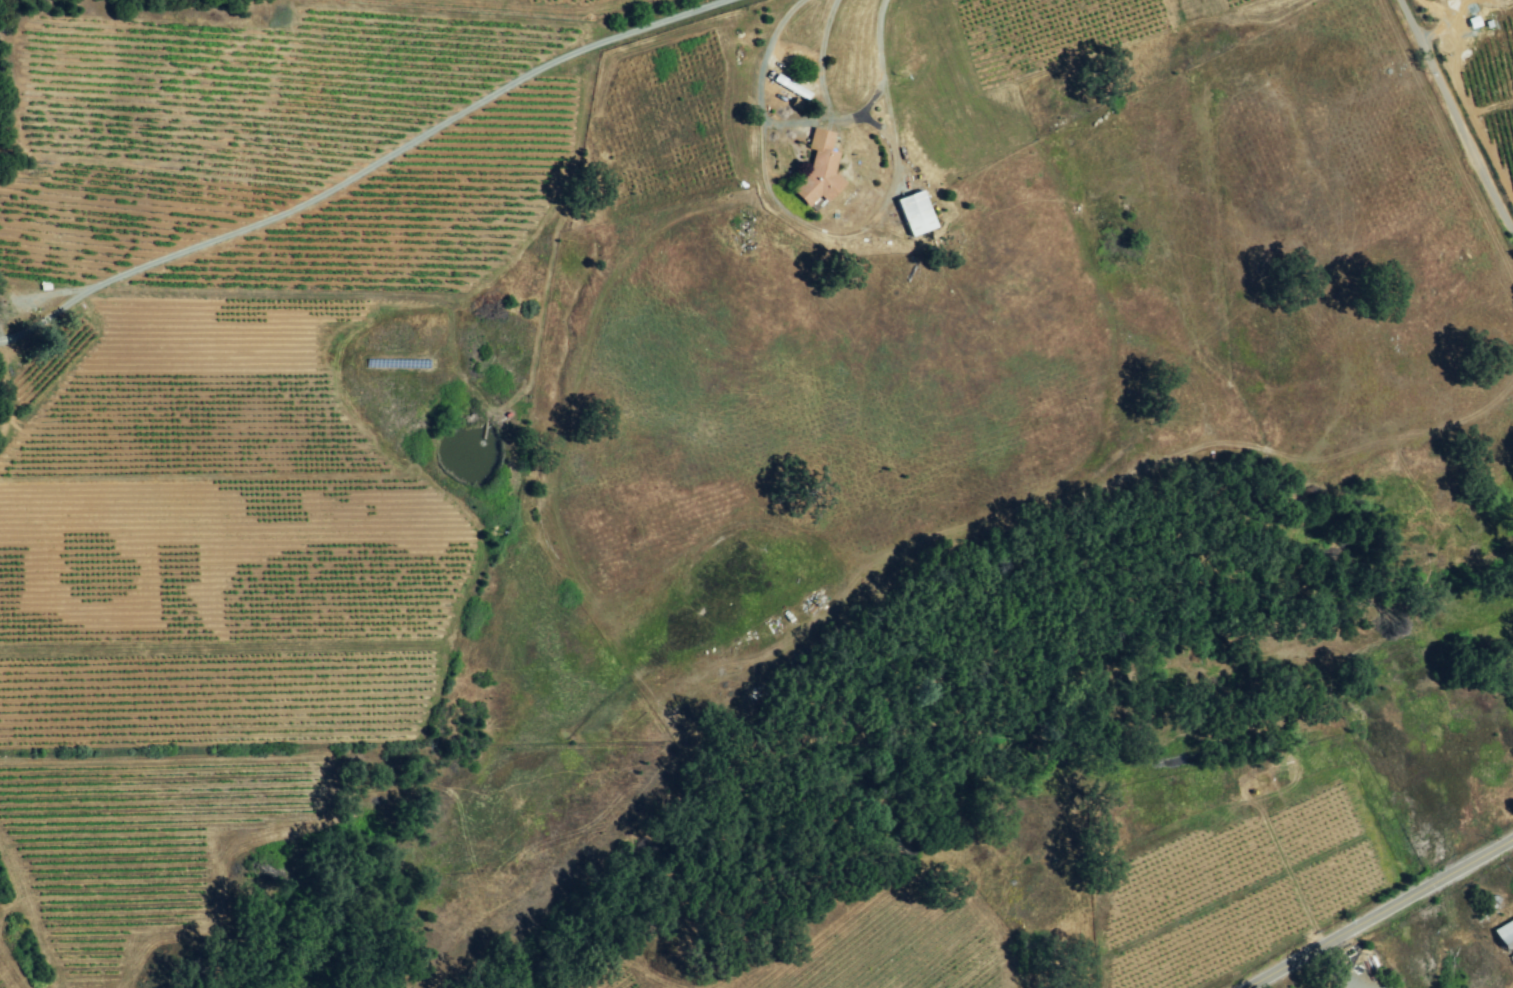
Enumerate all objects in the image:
road: (818, 59)
building: (788, 87)
road: (1453, 116)
road: (829, 119)
road: (384, 150)
building: (816, 171)
building: (912, 215)
road: (823, 234)
road: (23, 327)
road: (1381, 913)
building: (1504, 933)
road: (1343, 963)

